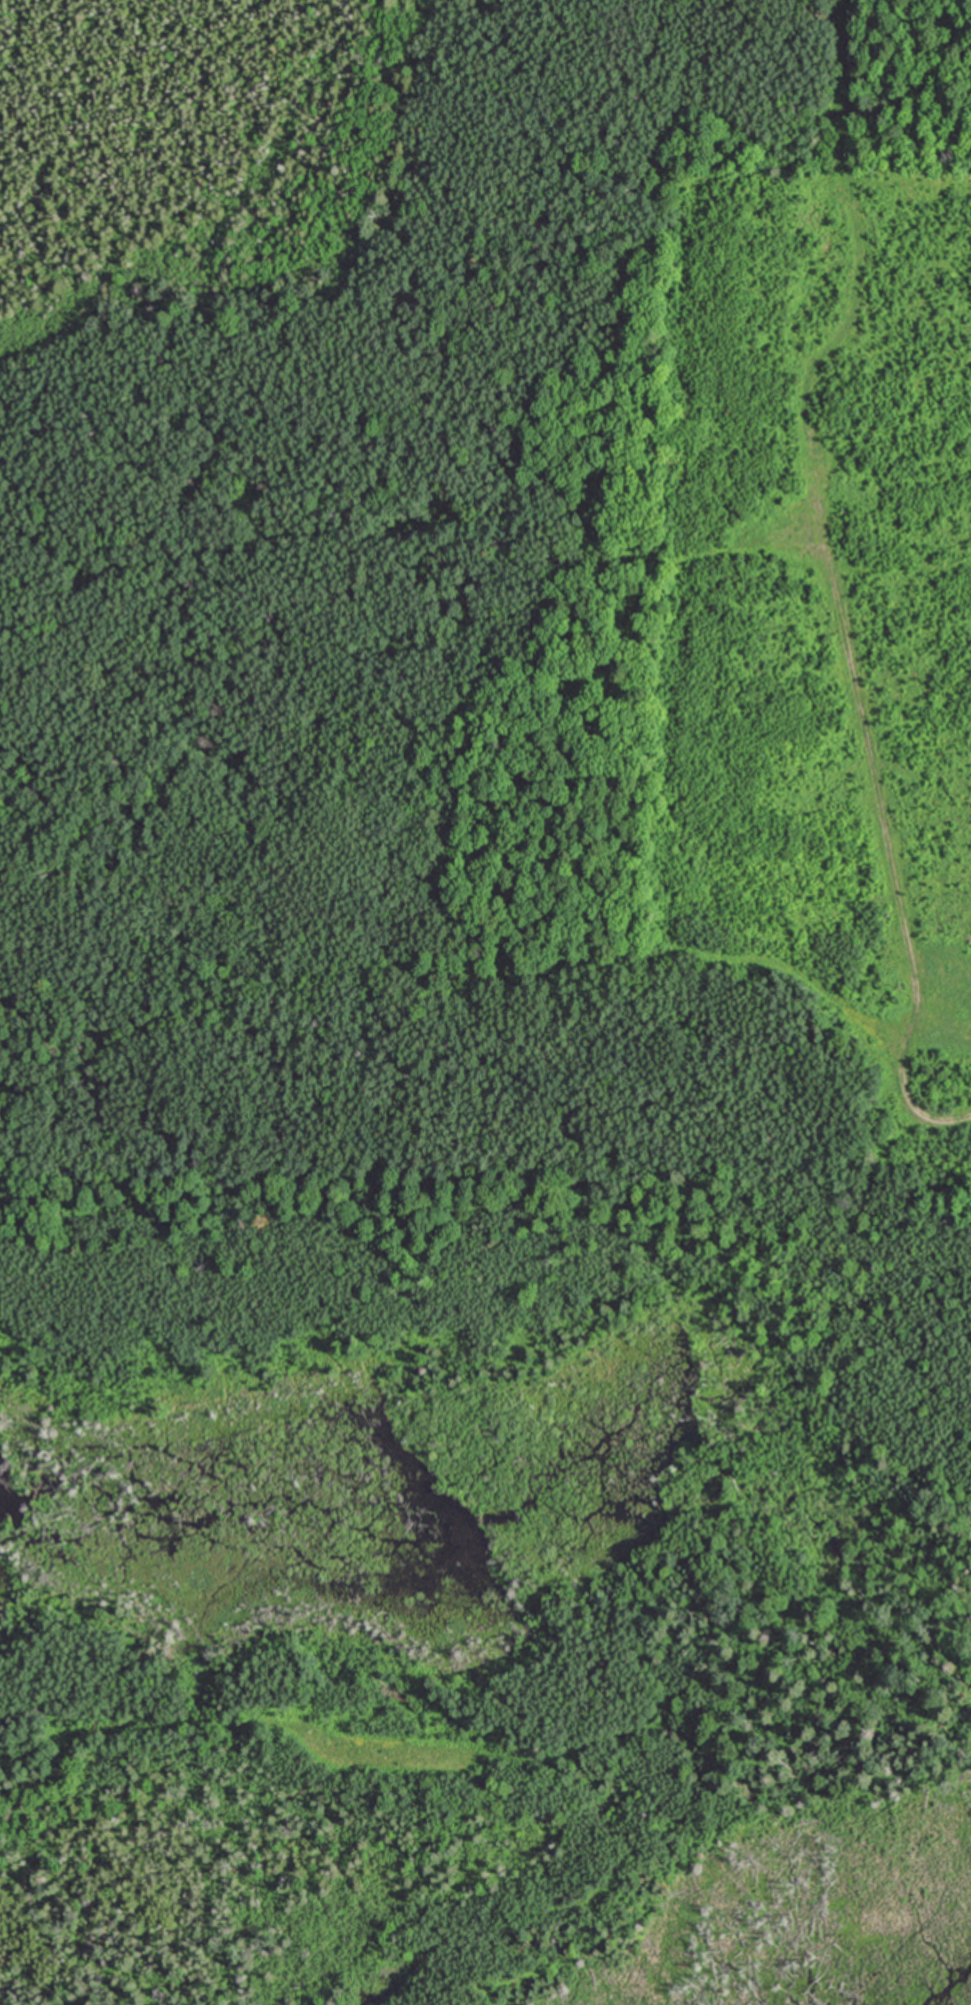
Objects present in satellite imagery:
road: (927, 1115)

